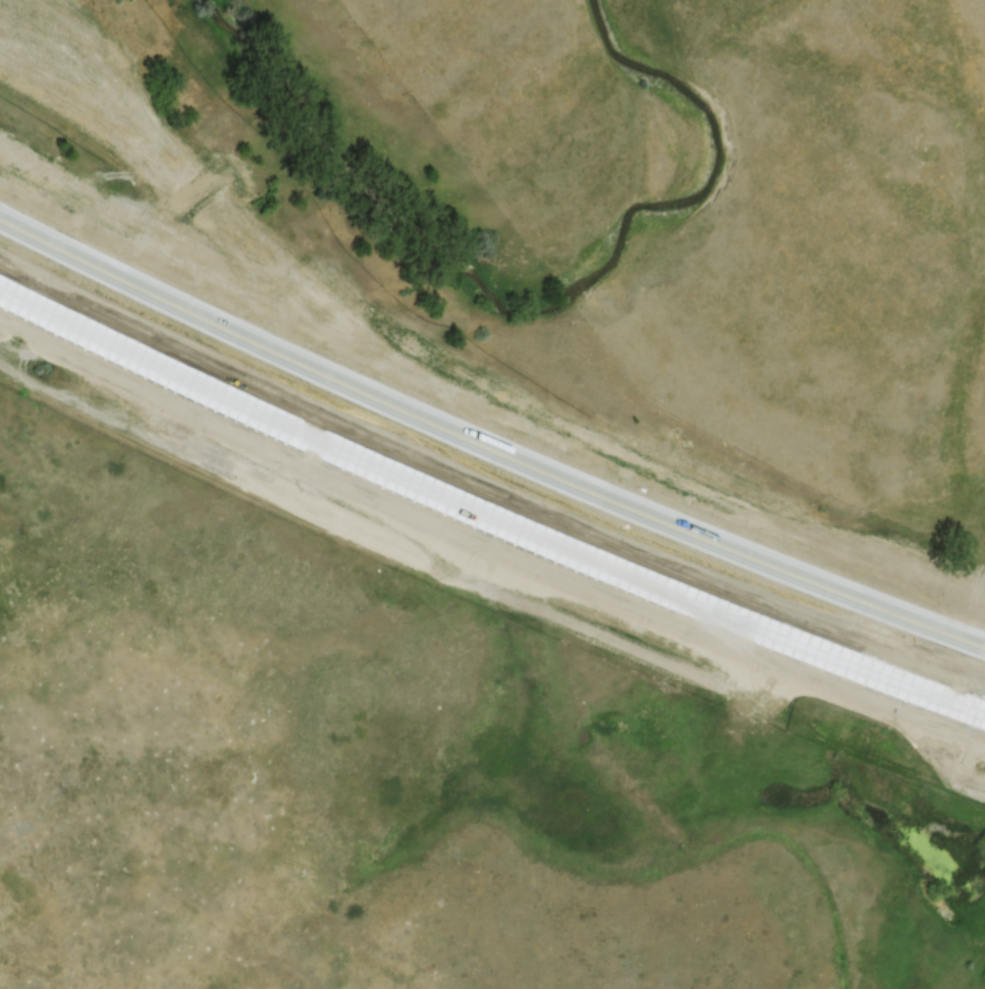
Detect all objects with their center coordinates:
road: (487, 448)
road: (486, 512)

